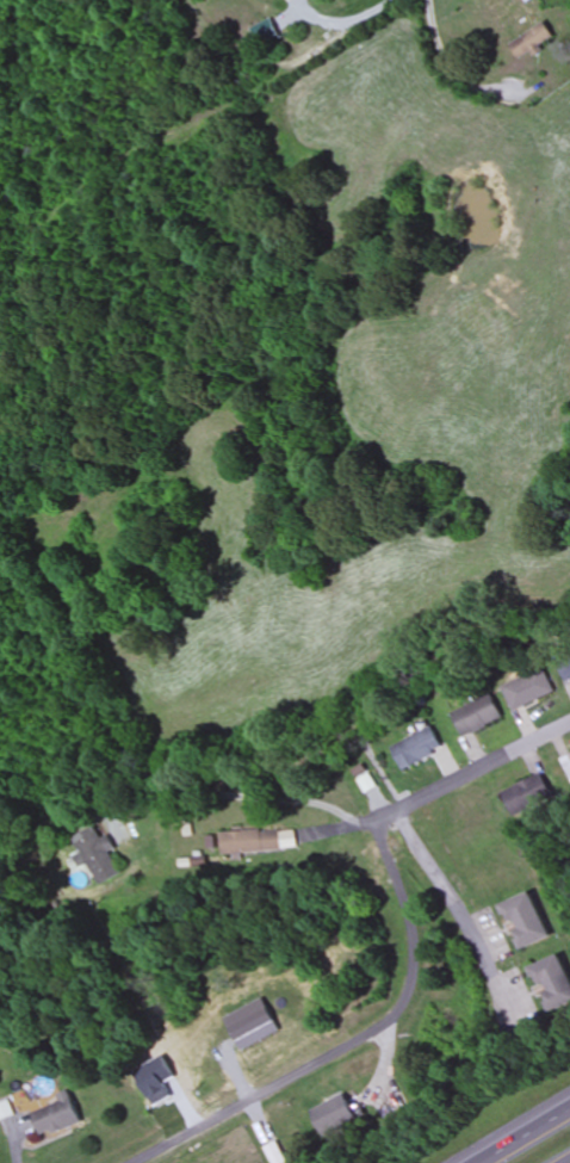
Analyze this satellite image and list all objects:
building: (266, 32)
building: (533, 42)
building: (566, 669)
building: (529, 689)
building: (478, 716)
building: (419, 749)
building: (568, 760)
road: (472, 771)
building: (527, 796)
building: (252, 842)
building: (95, 856)
road: (461, 915)
building: (527, 921)
building: (553, 983)
road: (355, 1043)
building: (57, 1116)
building: (336, 1116)
road: (525, 1136)

